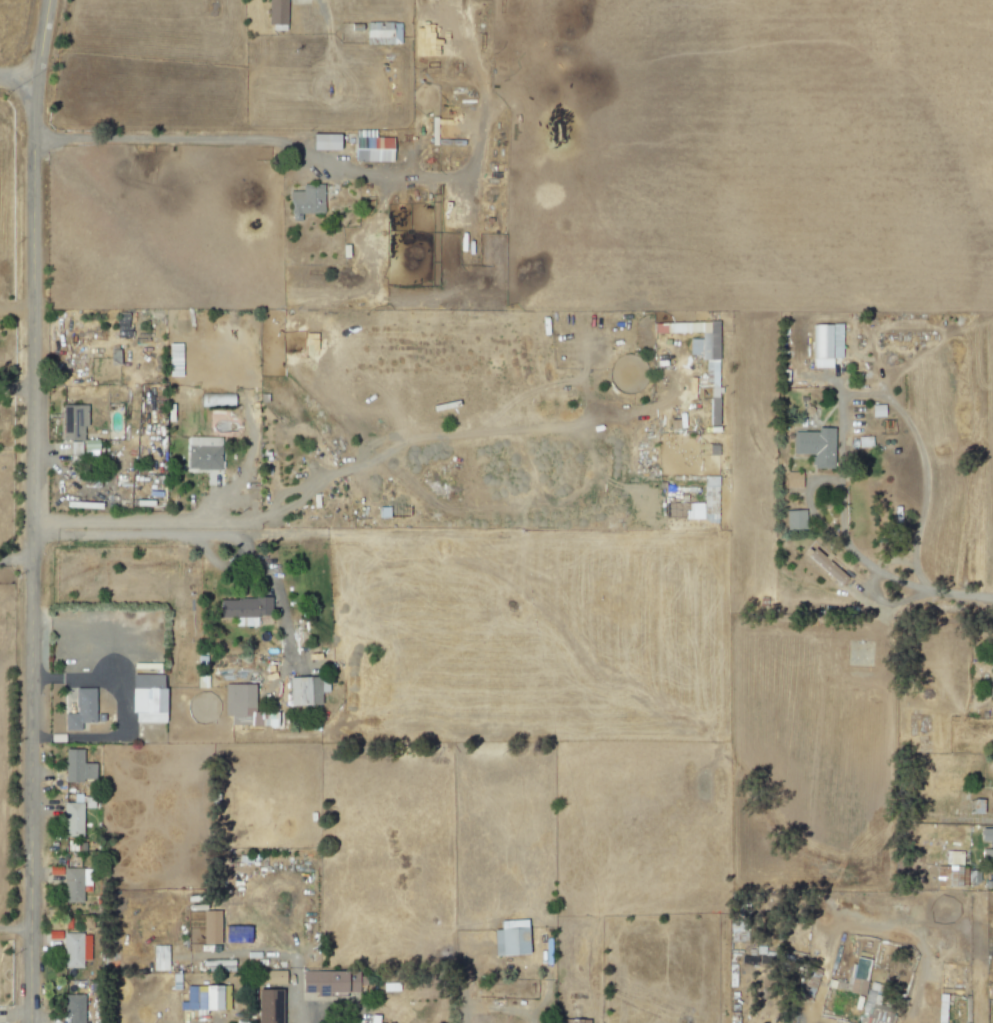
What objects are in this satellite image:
building: (382, 33)
road: (38, 43)
road: (15, 84)
building: (322, 142)
road: (227, 147)
building: (370, 147)
building: (304, 201)
road: (18, 309)
building: (825, 344)
building: (700, 354)
building: (215, 400)
road: (893, 403)
building: (876, 411)
building: (72, 422)
building: (860, 442)
building: (813, 446)
building: (81, 449)
building: (201, 454)
building: (792, 480)
building: (705, 503)
road: (807, 506)
building: (793, 520)
road: (148, 535)
road: (34, 554)
road: (17, 558)
road: (894, 561)
building: (825, 567)
road: (911, 586)
road: (274, 593)
building: (243, 610)
building: (991, 684)
building: (305, 691)
building: (146, 699)
building: (238, 704)
building: (80, 710)
building: (77, 767)
building: (992, 786)
building: (72, 819)
building: (992, 845)
building: (952, 868)
building: (71, 885)
building: (209, 927)
road: (15, 928)
building: (509, 938)
road: (915, 940)
building: (74, 949)
building: (159, 958)
building: (859, 969)
building: (269, 978)
building: (328, 982)
building: (210, 997)
building: (189, 999)
building: (267, 1006)
building: (75, 1008)
road: (465, 1013)
road: (307, 1014)
building: (571, 1021)
building: (939, 1022)

